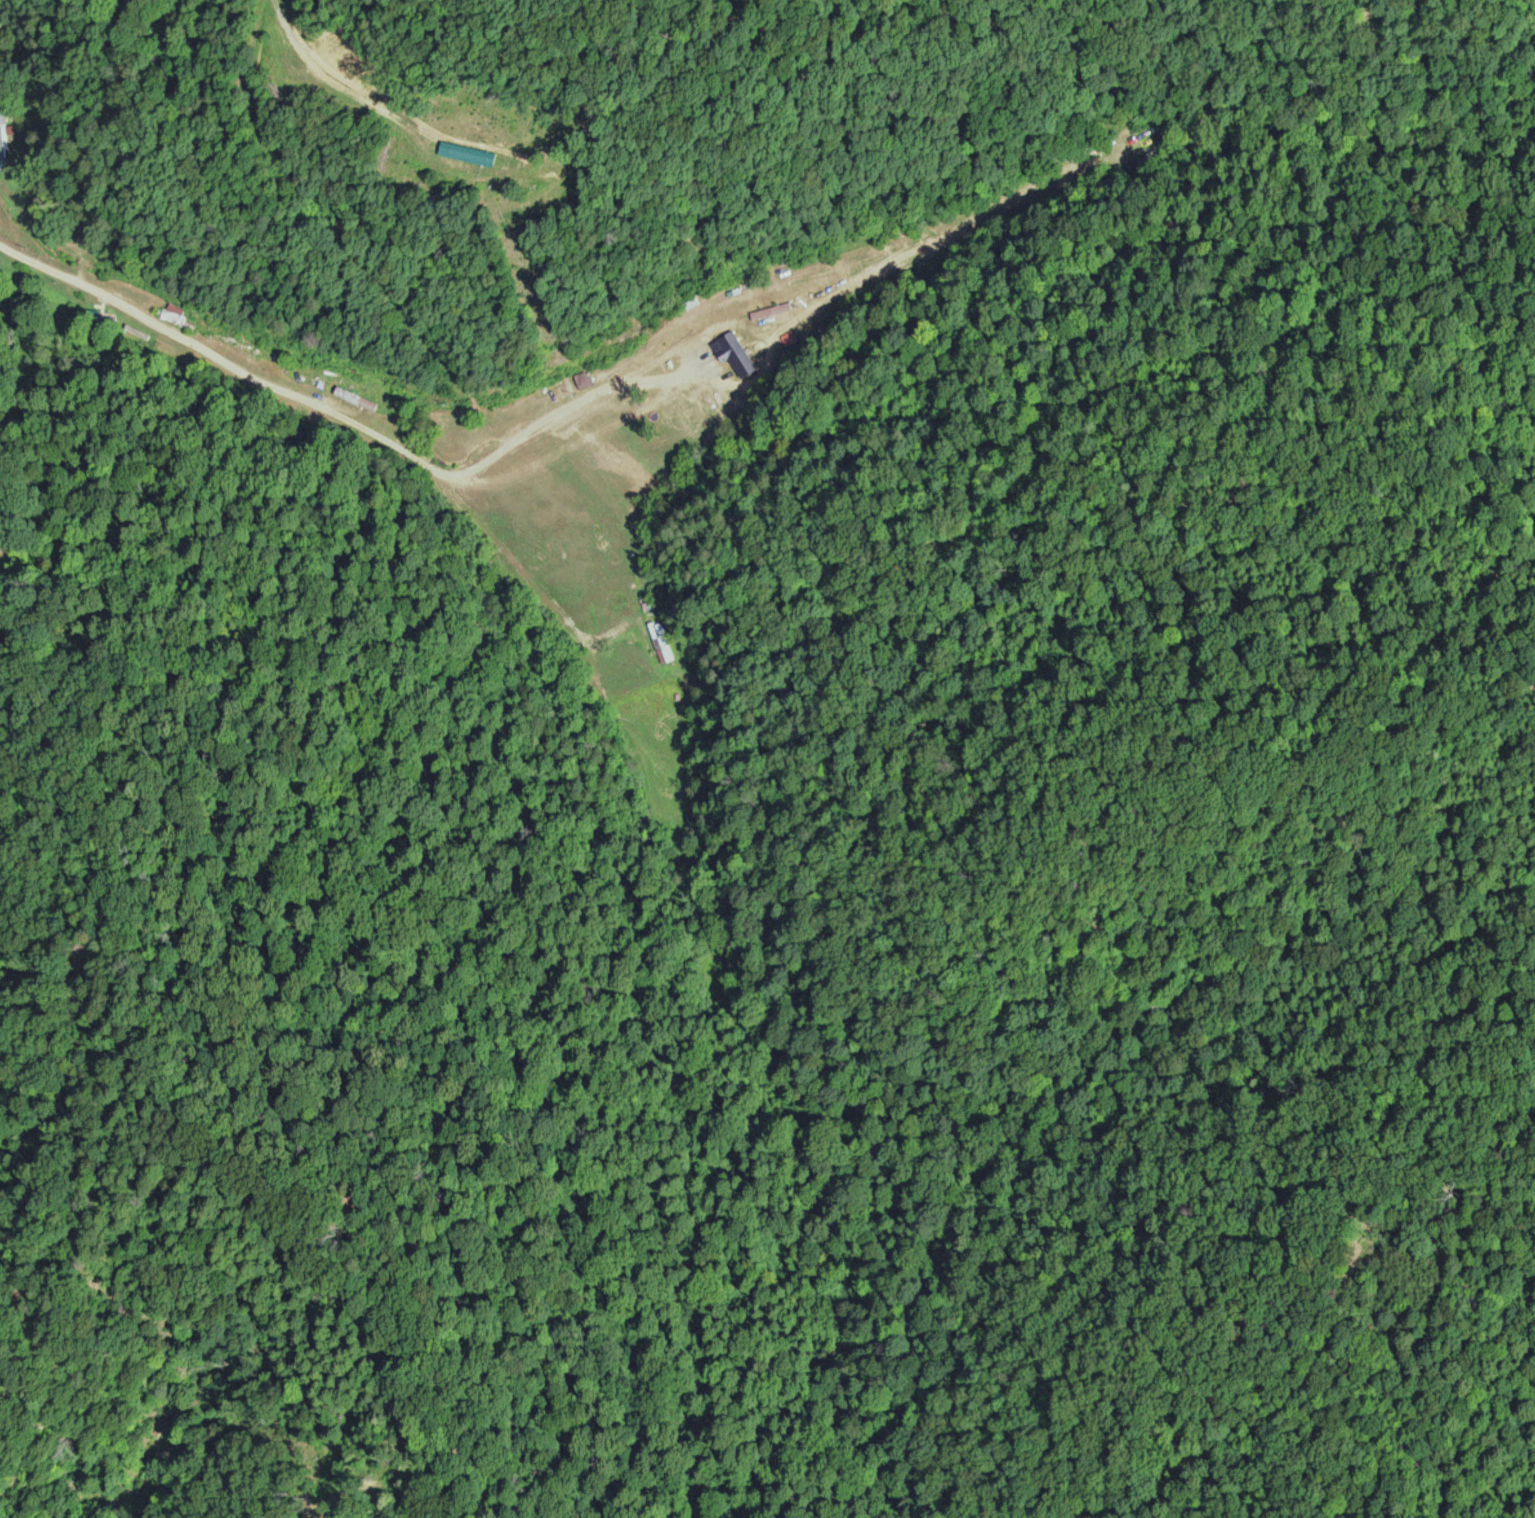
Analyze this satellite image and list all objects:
building: (3, 139)
building: (479, 158)
road: (353, 267)
building: (709, 337)
building: (707, 422)
building: (665, 651)

